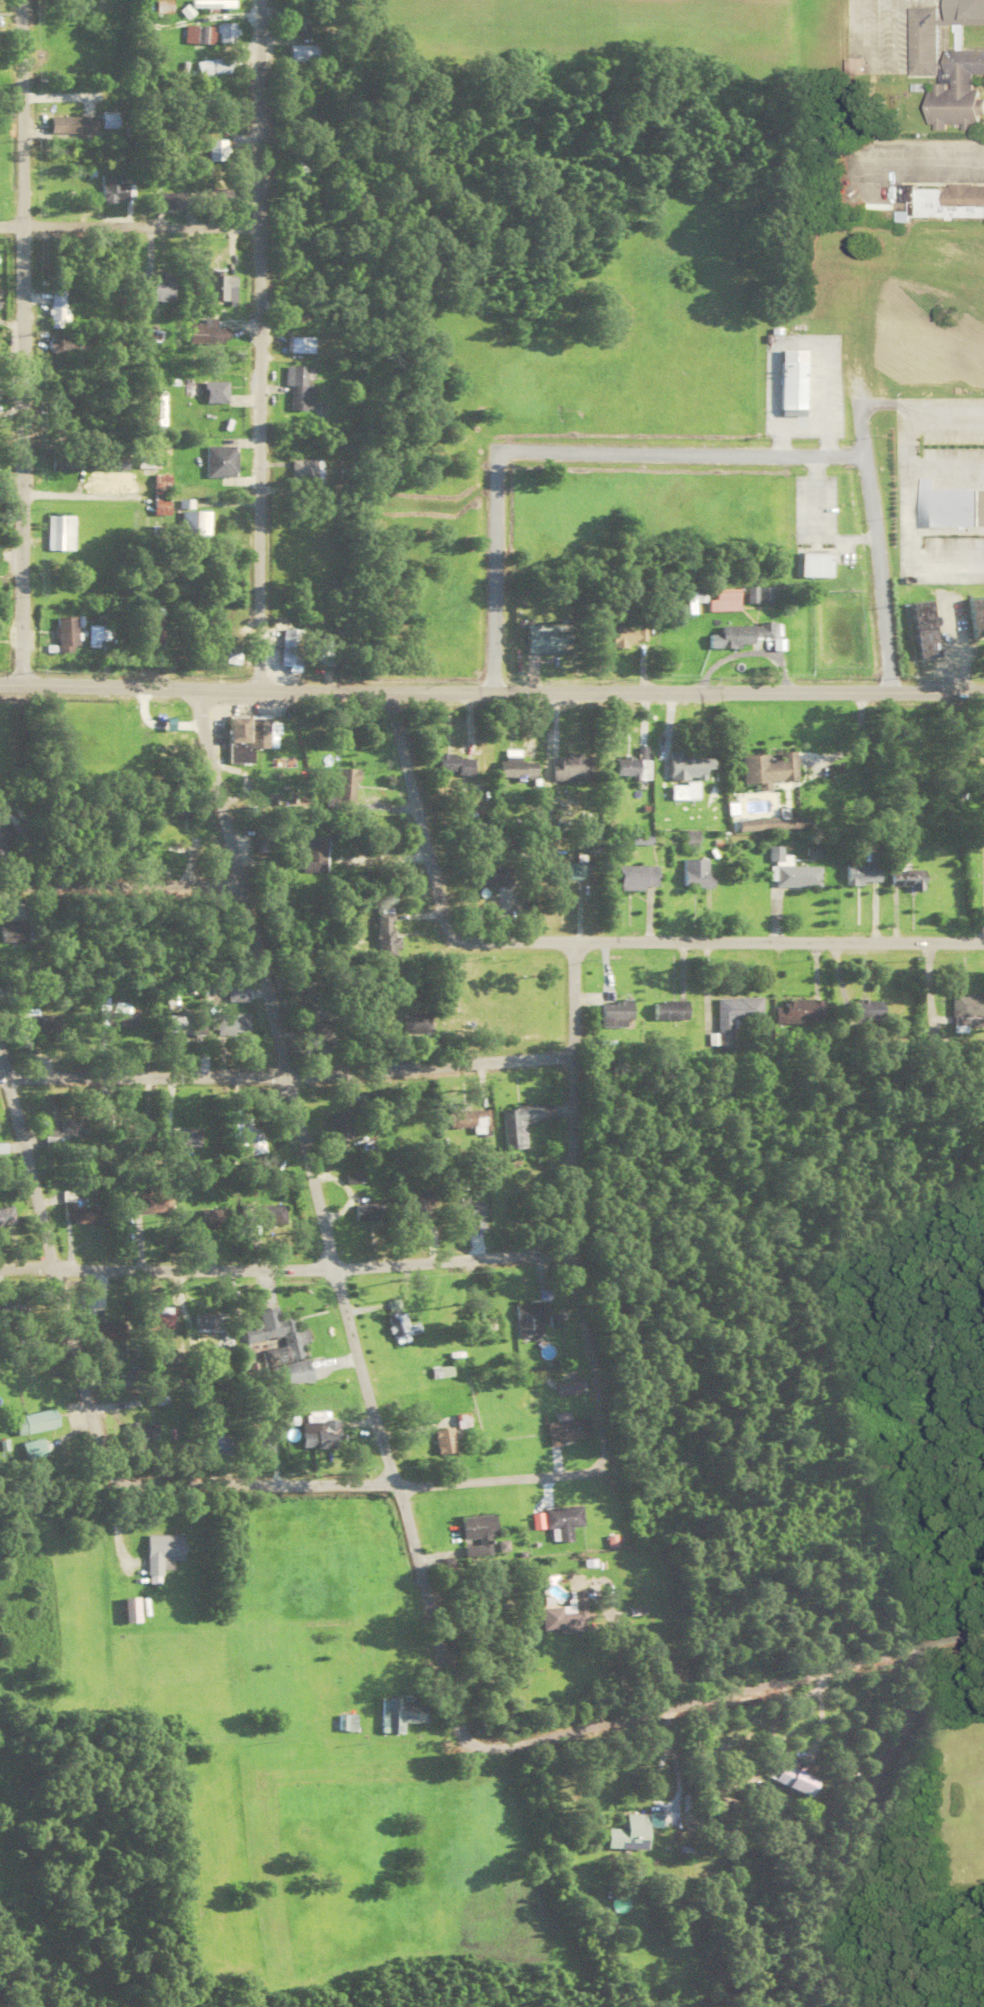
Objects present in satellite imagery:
road: (129, 221)
road: (21, 338)
road: (257, 341)
road: (564, 452)
road: (865, 487)
road: (138, 504)
road: (491, 685)
road: (414, 813)
road: (119, 880)
road: (720, 939)
road: (4, 1057)
road: (285, 1074)
road: (569, 1207)
road: (319, 1208)
road: (284, 1263)
road: (55, 1273)
road: (343, 1480)
road: (722, 1688)

